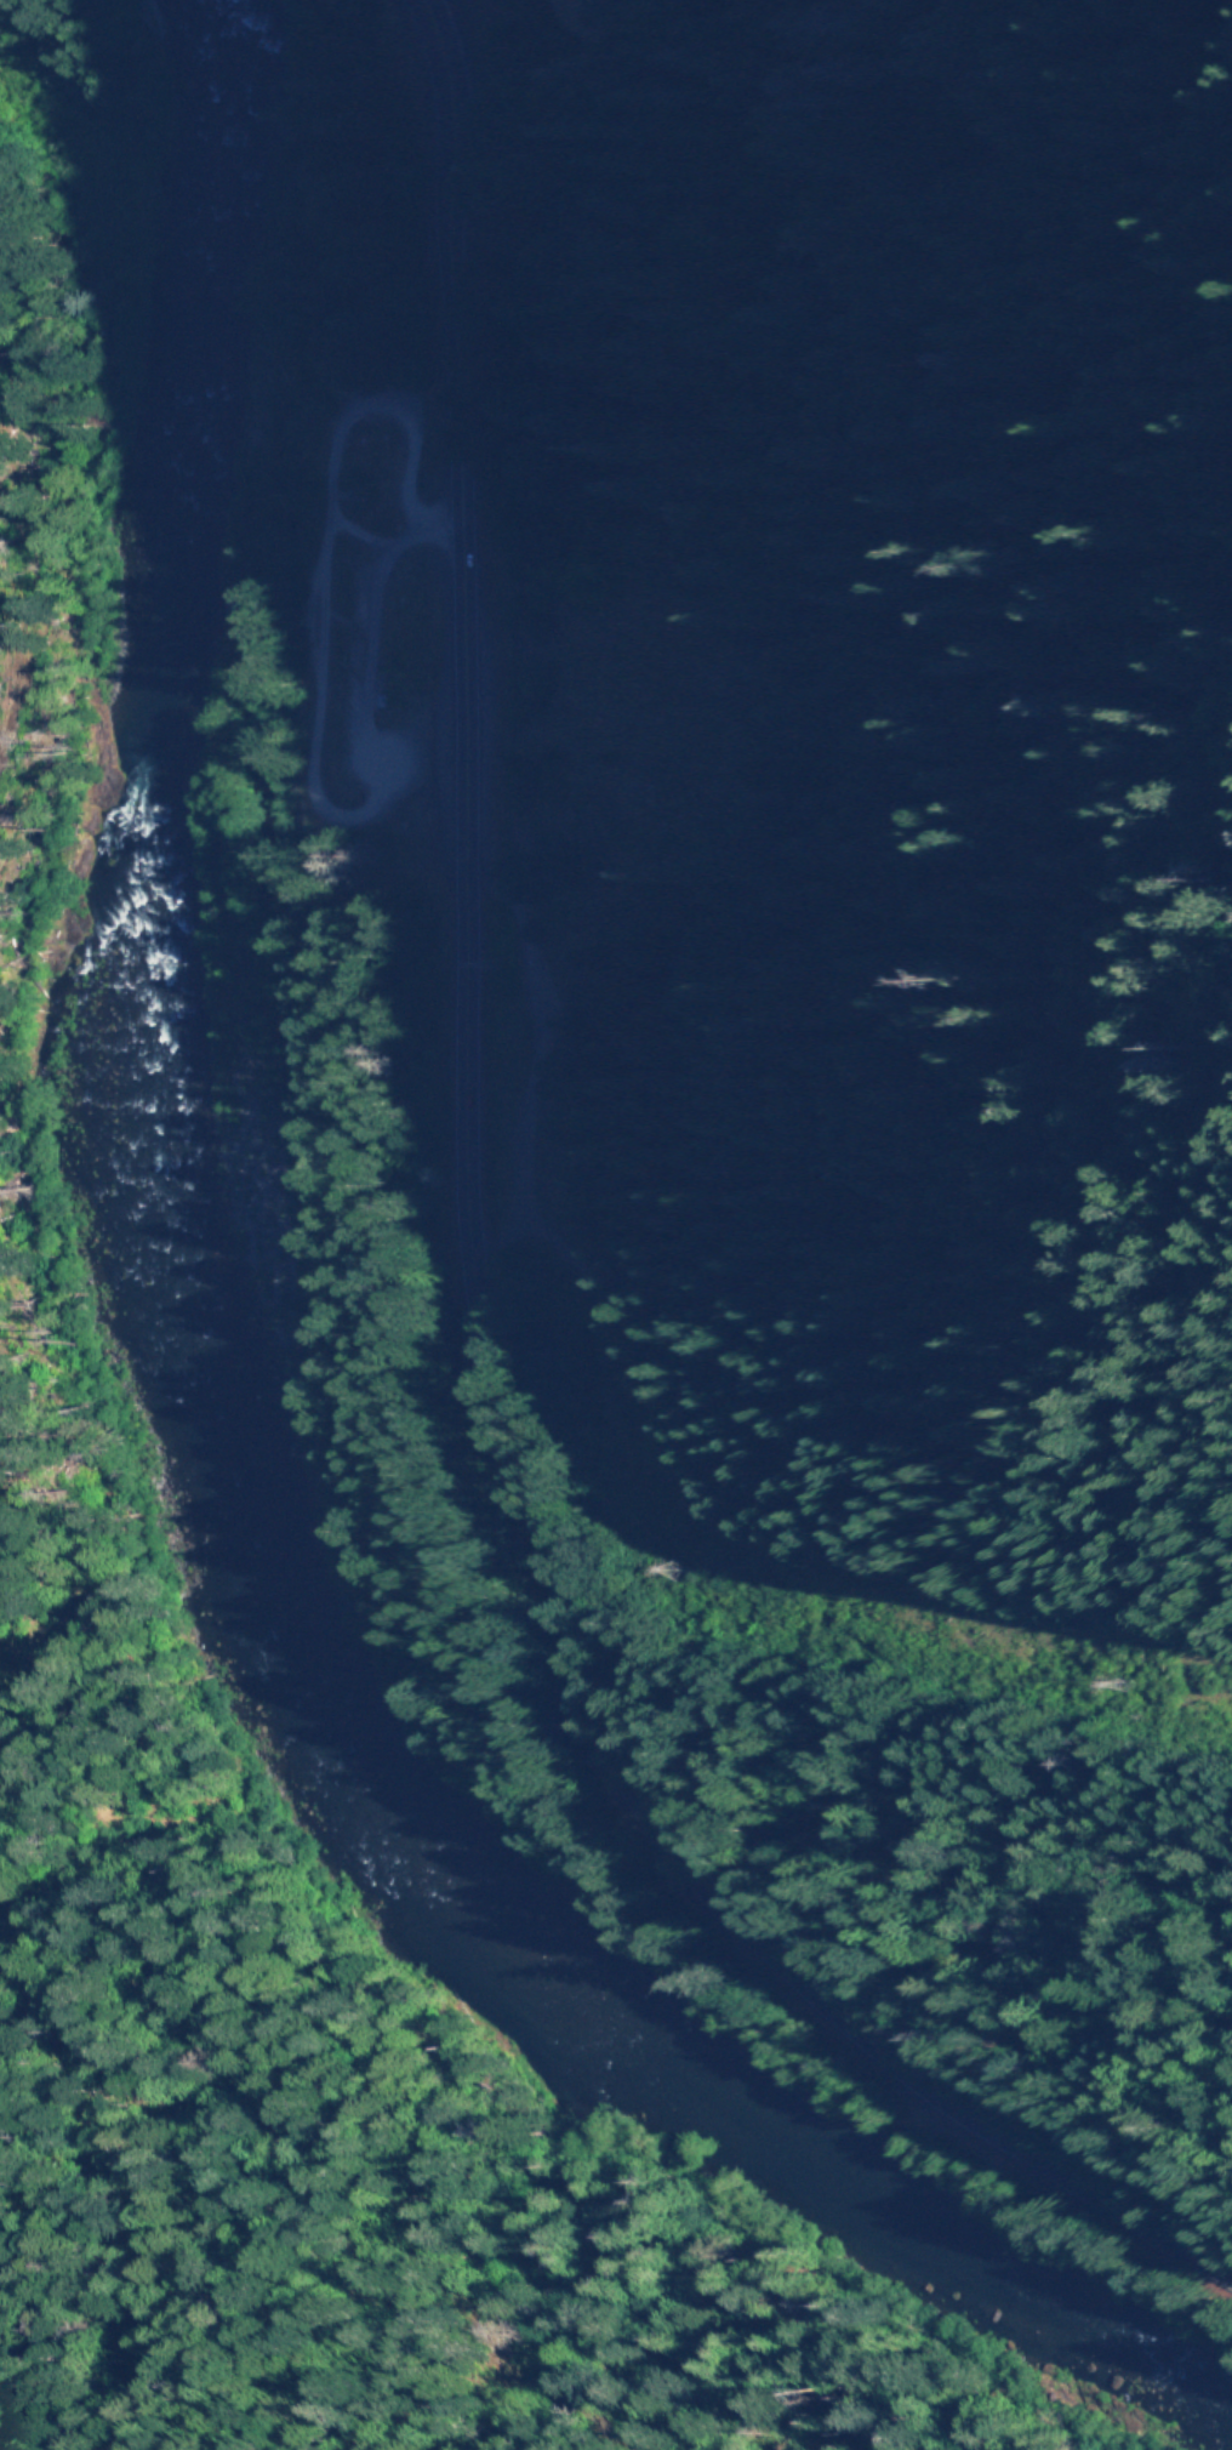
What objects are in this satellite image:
road: (348, 416)
road: (52, 518)
park: (341, 632)
road: (361, 673)
road: (315, 731)
road: (463, 1299)
river: (221, 1431)
road: (422, 2007)

